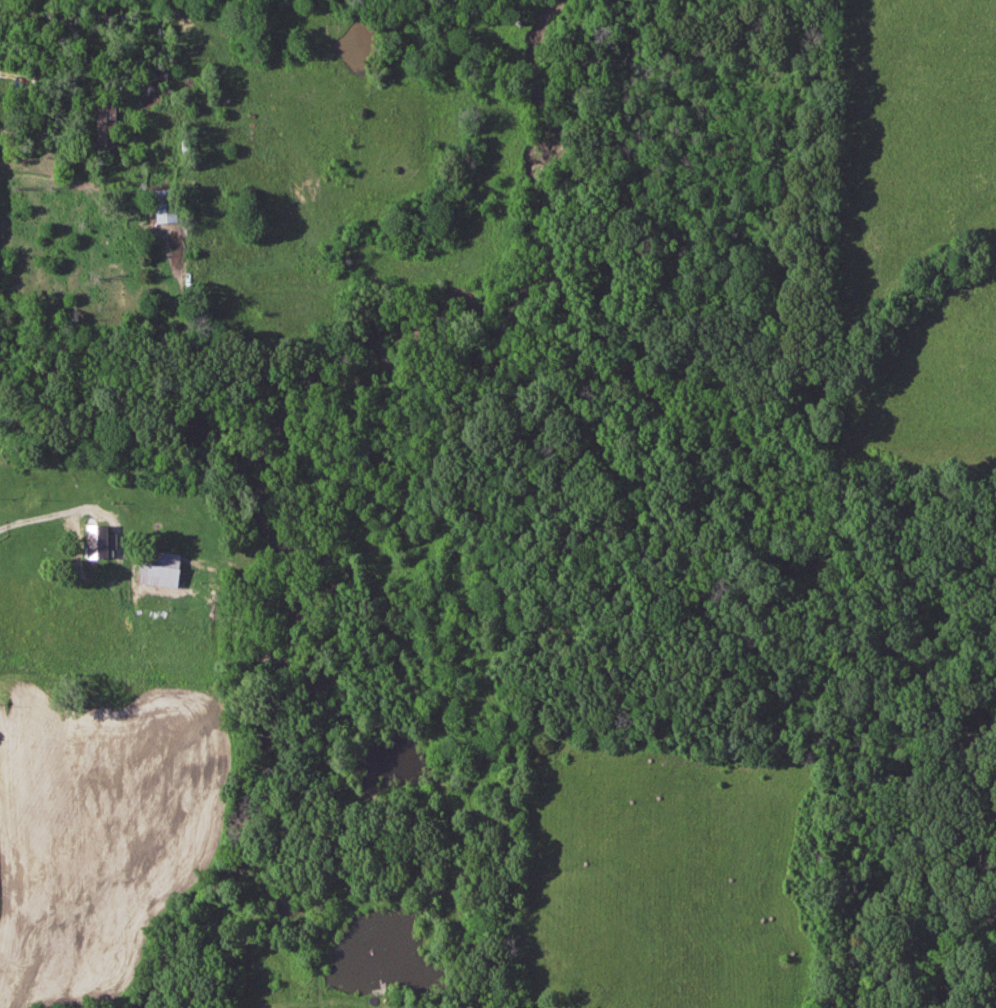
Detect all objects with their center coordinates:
road: (57, 87)
building: (103, 127)
building: (160, 206)
river: (368, 402)
road: (52, 515)
building: (92, 542)
building: (154, 569)

